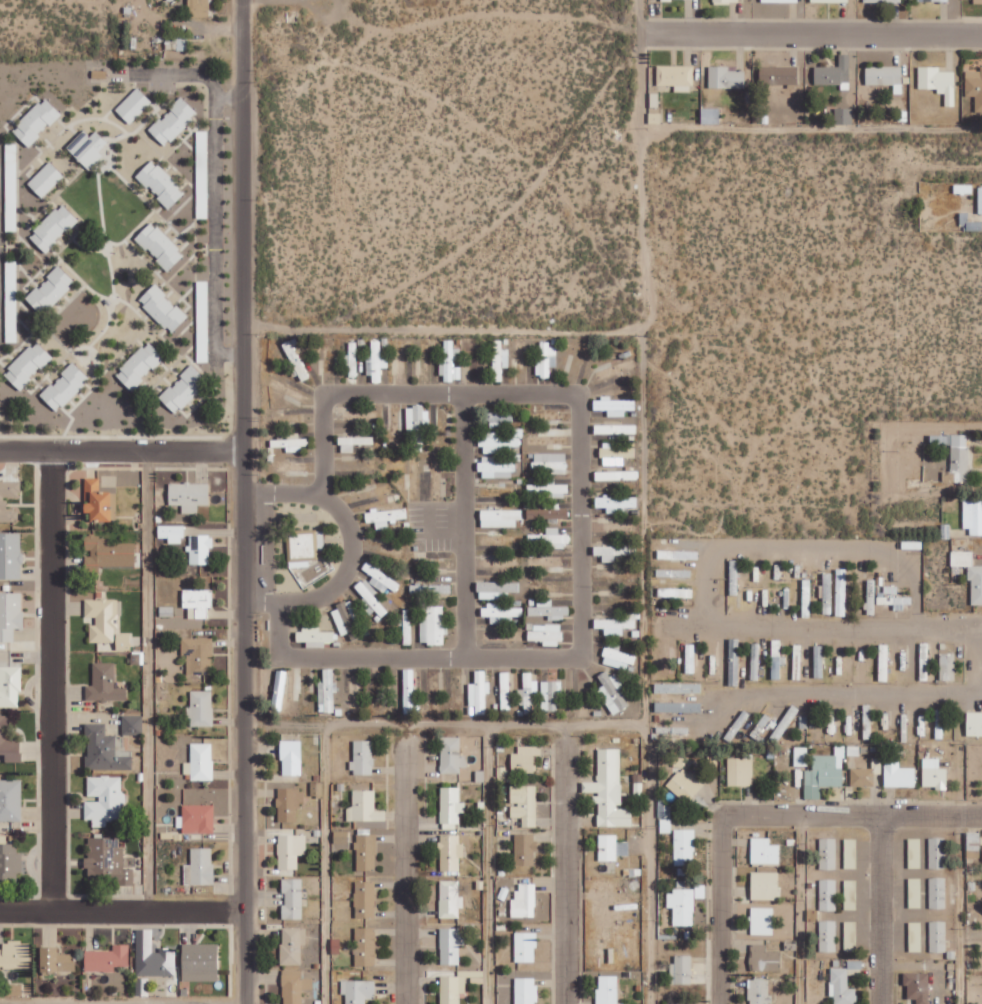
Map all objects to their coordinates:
building: (781, 0)
building: (936, 0)
building: (726, 1)
building: (830, 1)
building: (881, 1)
building: (978, 1)
building: (199, 8)
road: (810, 31)
building: (176, 42)
building: (835, 72)
road: (107, 74)
building: (779, 75)
building: (886, 76)
building: (676, 77)
building: (726, 77)
building: (938, 82)
building: (975, 87)
road: (228, 96)
road: (638, 101)
building: (134, 105)
building: (711, 115)
building: (843, 115)
building: (37, 121)
building: (173, 121)
building: (88, 147)
building: (46, 179)
building: (161, 183)
building: (980, 200)
building: (54, 227)
road: (212, 231)
building: (160, 246)
building: (51, 290)
building: (163, 308)
building: (202, 312)
building: (296, 359)
building: (352, 359)
building: (500, 360)
building: (546, 360)
building: (376, 362)
building: (451, 362)
building: (28, 365)
building: (140, 365)
building: (65, 386)
building: (184, 389)
road: (577, 399)
building: (614, 406)
building: (499, 419)
building: (416, 423)
building: (604, 429)
building: (291, 442)
building: (349, 443)
building: (498, 443)
road: (121, 451)
building: (615, 454)
building: (956, 454)
building: (549, 462)
building: (496, 468)
building: (616, 475)
building: (549, 488)
road: (282, 491)
building: (189, 496)
building: (98, 501)
road: (242, 502)
building: (3, 503)
building: (616, 504)
building: (548, 512)
building: (385, 516)
building: (973, 516)
building: (500, 518)
road: (464, 525)
building: (172, 533)
road: (642, 533)
building: (554, 538)
road: (802, 539)
road: (349, 542)
building: (304, 547)
building: (200, 550)
building: (612, 552)
building: (108, 553)
building: (678, 555)
building: (10, 556)
building: (970, 574)
building: (381, 578)
building: (430, 588)
building: (496, 590)
building: (840, 592)
building: (828, 593)
building: (871, 597)
building: (370, 598)
building: (894, 598)
building: (198, 602)
road: (260, 604)
building: (549, 610)
building: (500, 613)
building: (10, 615)
building: (345, 617)
building: (102, 619)
building: (618, 624)
building: (432, 625)
road: (800, 630)
building: (545, 634)
building: (503, 635)
building: (314, 636)
building: (123, 642)
building: (198, 655)
road: (261, 657)
road: (430, 657)
building: (617, 657)
building: (776, 660)
building: (948, 667)
building: (409, 679)
building: (733, 680)
road: (52, 681)
road: (148, 681)
building: (104, 684)
building: (10, 686)
building: (678, 688)
building: (279, 689)
building: (505, 690)
building: (528, 690)
building: (353, 691)
building: (327, 692)
building: (479, 692)
building: (612, 692)
building: (550, 696)
building: (678, 707)
building: (200, 708)
building: (974, 724)
building: (132, 725)
building: (8, 743)
building: (104, 750)
building: (452, 755)
building: (800, 756)
building: (291, 758)
building: (363, 758)
building: (525, 759)
building: (200, 763)
building: (740, 772)
building: (824, 773)
building: (898, 774)
building: (934, 774)
building: (862, 777)
building: (685, 785)
building: (609, 791)
building: (10, 800)
building: (105, 800)
building: (289, 804)
building: (524, 804)
building: (451, 806)
building: (365, 807)
road: (759, 813)
building: (196, 819)
building: (341, 837)
building: (973, 845)
building: (684, 847)
building: (612, 848)
building: (525, 849)
building: (291, 851)
building: (366, 852)
building: (764, 852)
building: (450, 853)
building: (828, 853)
building: (850, 853)
building: (914, 853)
building: (937, 853)
building: (9, 861)
building: (107, 862)
building: (199, 868)
road: (564, 869)
road: (405, 872)
building: (765, 886)
building: (915, 893)
building: (937, 893)
building: (850, 894)
building: (828, 895)
building: (293, 899)
building: (365, 899)
building: (450, 899)
building: (524, 901)
road: (881, 909)
road: (121, 911)
building: (761, 921)
building: (828, 936)
building: (850, 936)
building: (915, 937)
building: (938, 937)
building: (292, 945)
building: (335, 946)
building: (451, 946)
building: (365, 947)
building: (525, 947)
building: (15, 955)
building: (153, 957)
building: (107, 959)
building: (764, 959)
building: (57, 961)
building: (201, 963)
building: (681, 970)
building: (842, 985)
building: (455, 986)
building: (918, 986)
building: (142, 987)
building: (296, 988)
building: (526, 990)
building: (607, 990)
building: (358, 991)
building: (759, 992)

